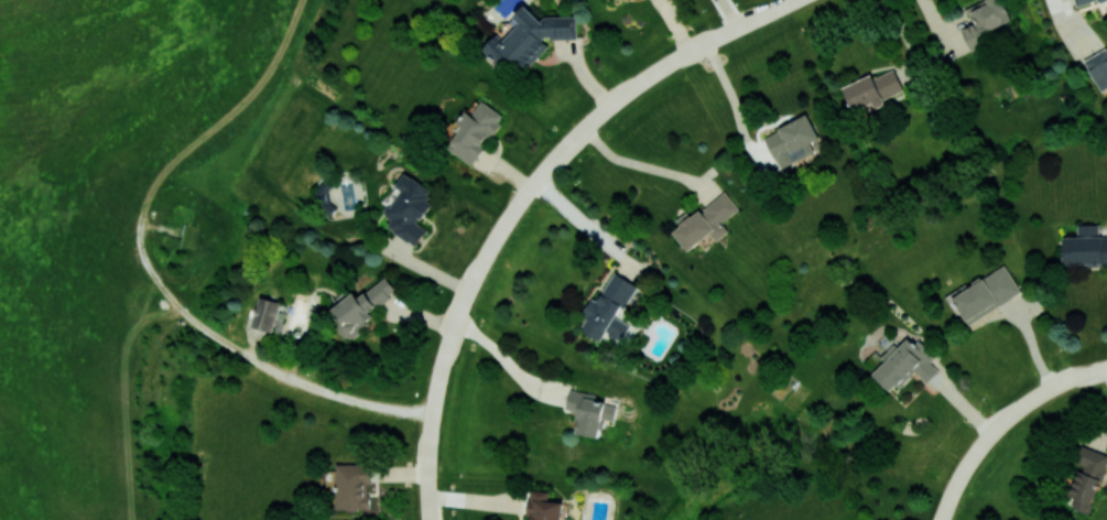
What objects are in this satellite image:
building: (1106, 1)
building: (1083, 2)
building: (985, 20)
road: (1064, 22)
building: (530, 37)
building: (1098, 67)
building: (873, 89)
building: (475, 131)
building: (792, 141)
road: (556, 152)
road: (642, 165)
building: (325, 201)
building: (409, 210)
road: (585, 226)
park: (129, 246)
building: (1085, 247)
building: (986, 294)
building: (362, 307)
building: (608, 310)
building: (265, 313)
road: (252, 359)
road: (507, 361)
building: (903, 365)
road: (1093, 371)
road: (432, 412)
building: (589, 412)
road: (1003, 422)
road: (426, 470)
building: (1087, 478)
building: (352, 486)
building: (543, 506)
road: (948, 507)

